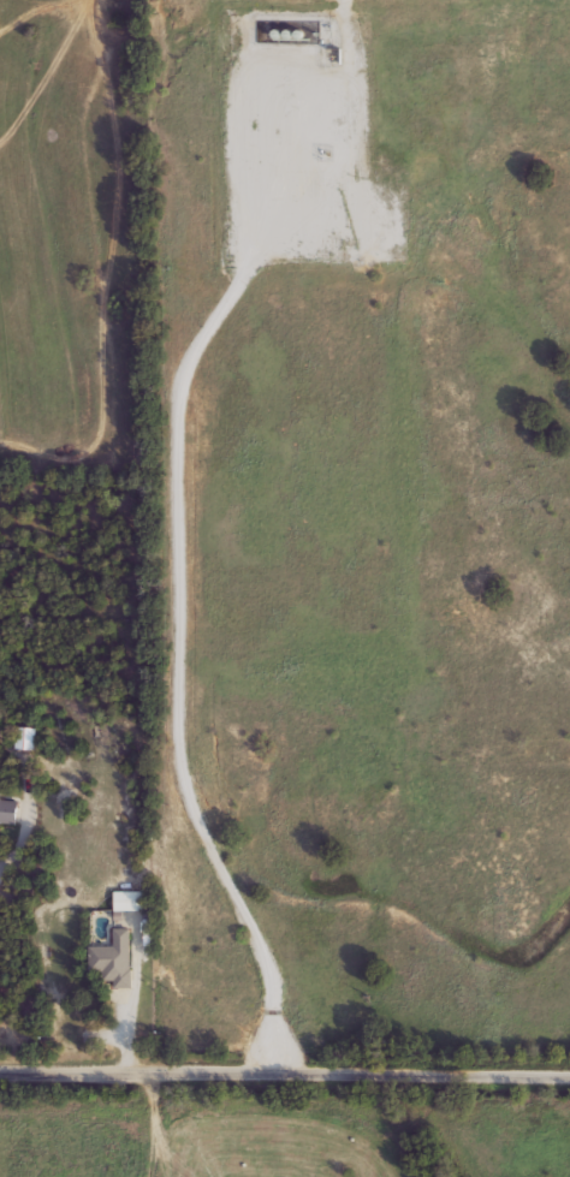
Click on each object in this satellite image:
building: (0, 793)
building: (8, 812)
building: (130, 899)
building: (114, 958)
road: (285, 1075)

